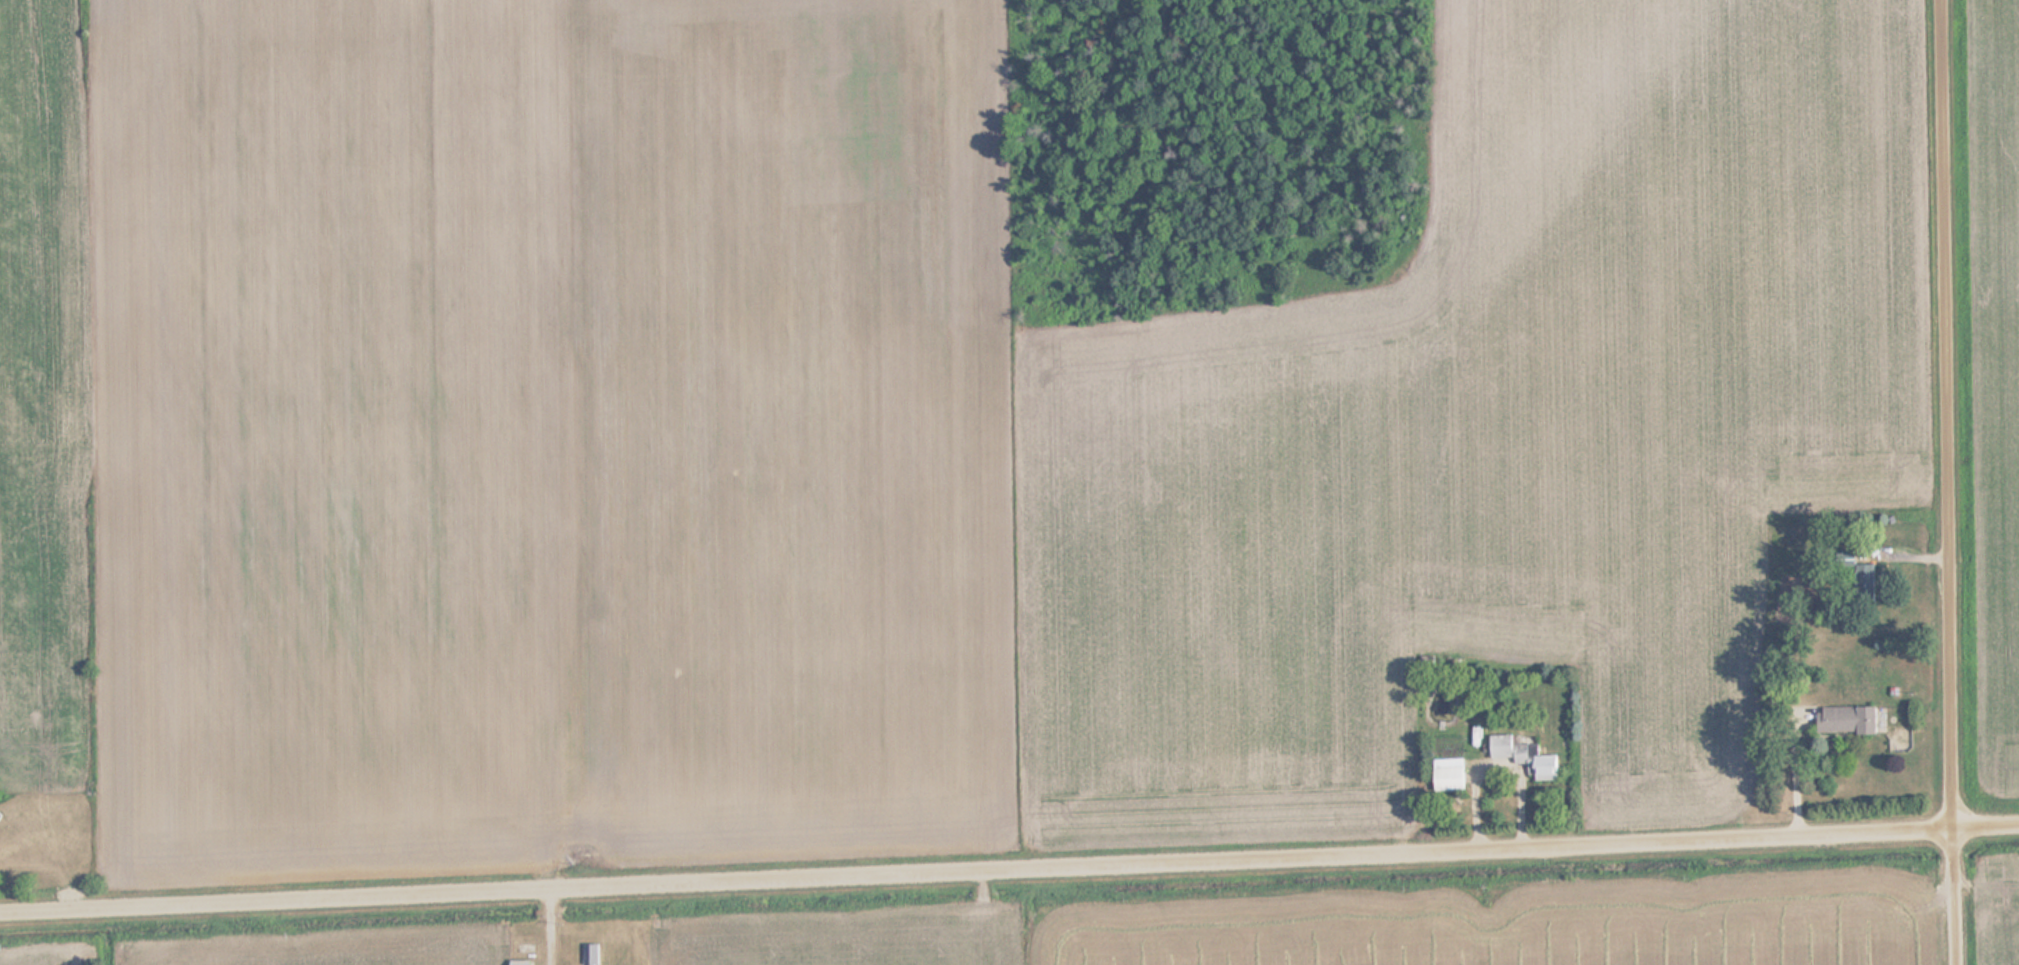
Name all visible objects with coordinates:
road: (1954, 482)
building: (1863, 578)
building: (1844, 720)
building: (1521, 753)
building: (1446, 778)
road: (1009, 869)
building: (593, 954)
building: (525, 962)

